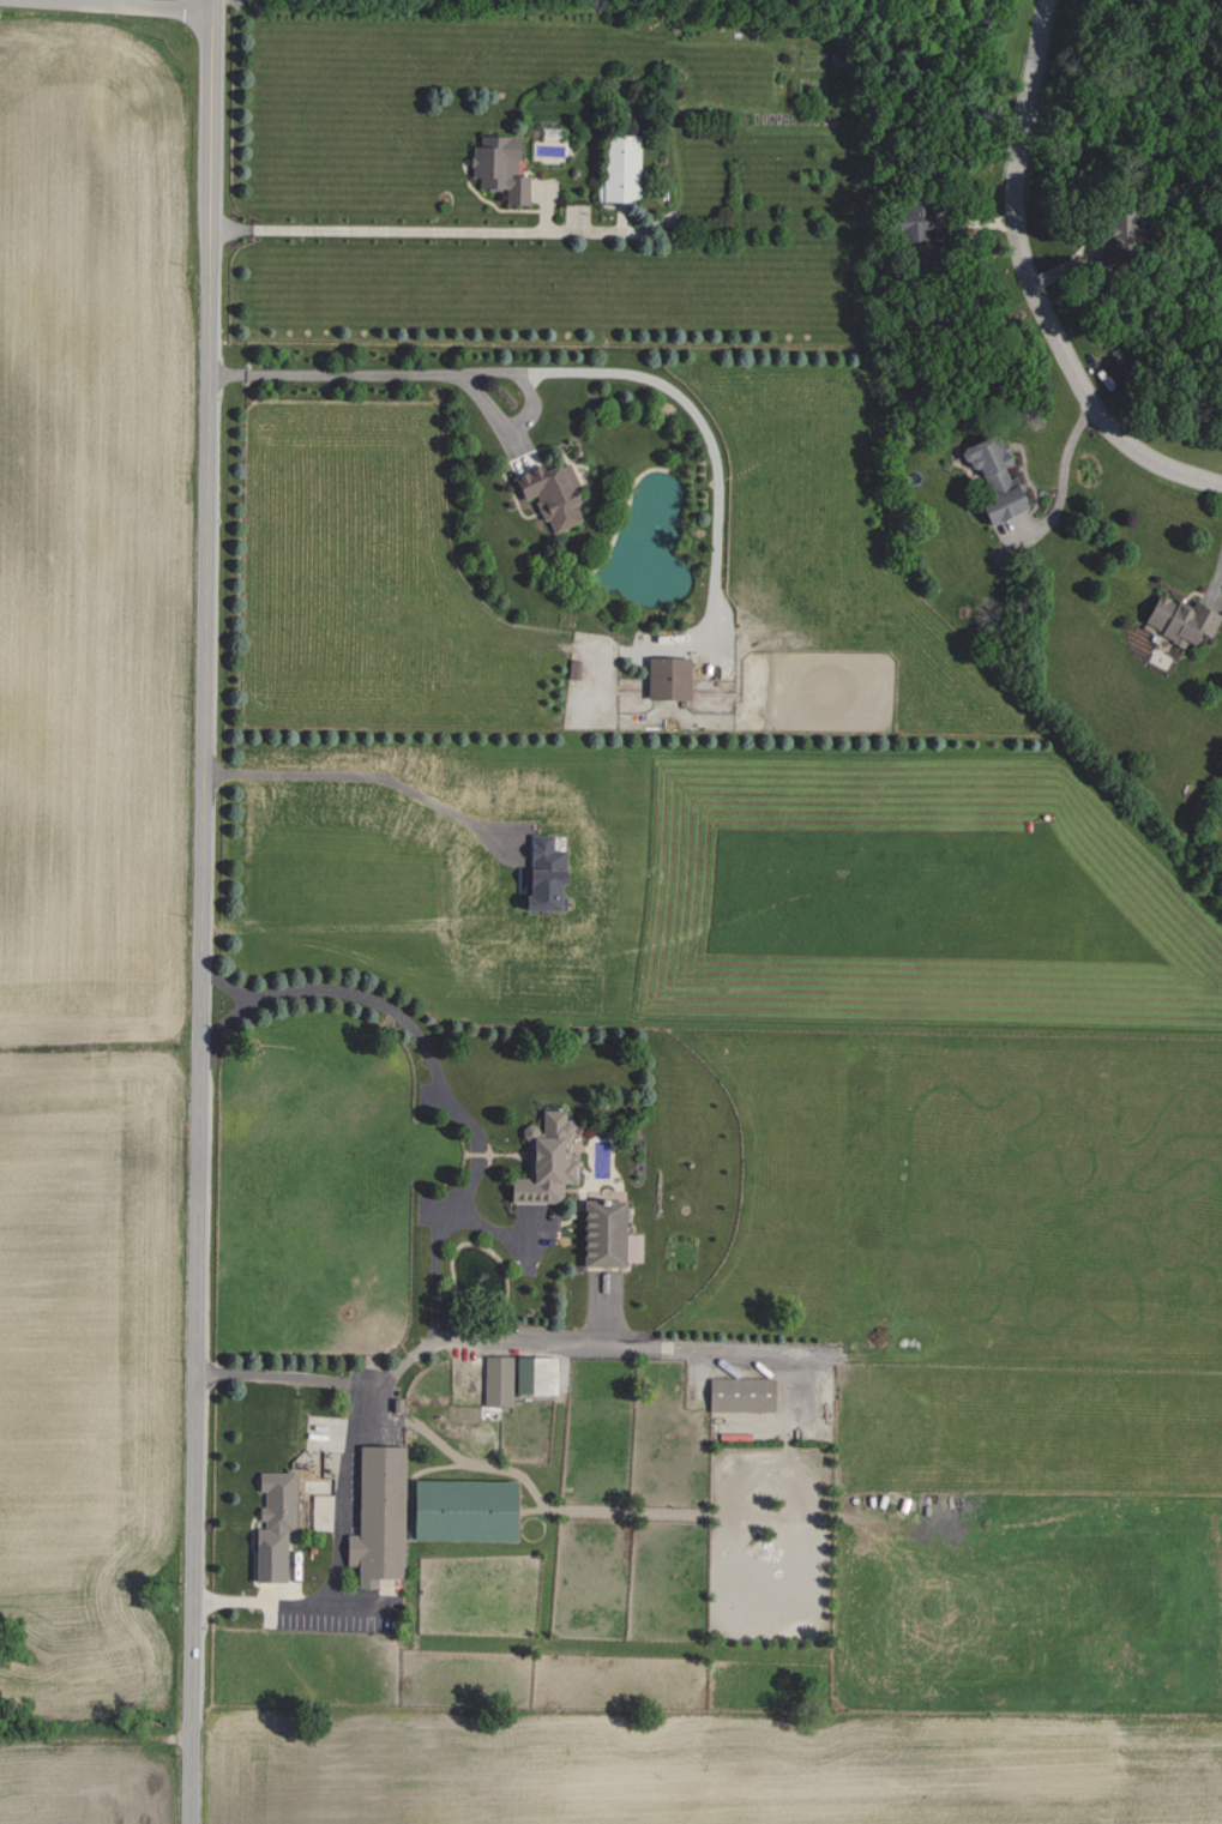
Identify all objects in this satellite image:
building: (1136, 1)
road: (1034, 67)
building: (496, 165)
building: (619, 167)
building: (911, 222)
building: (1115, 228)
road: (373, 229)
road: (1027, 277)
road: (371, 371)
road: (1060, 476)
building: (991, 477)
building: (548, 492)
building: (1175, 618)
building: (664, 676)
road: (349, 776)
building: (538, 874)
road: (200, 911)
road: (433, 1063)
building: (542, 1160)
building: (603, 1234)
road: (435, 1275)
road: (669, 1347)
road: (284, 1372)
building: (532, 1374)
building: (495, 1379)
building: (739, 1393)
building: (458, 1510)
building: (375, 1516)
building: (271, 1524)

